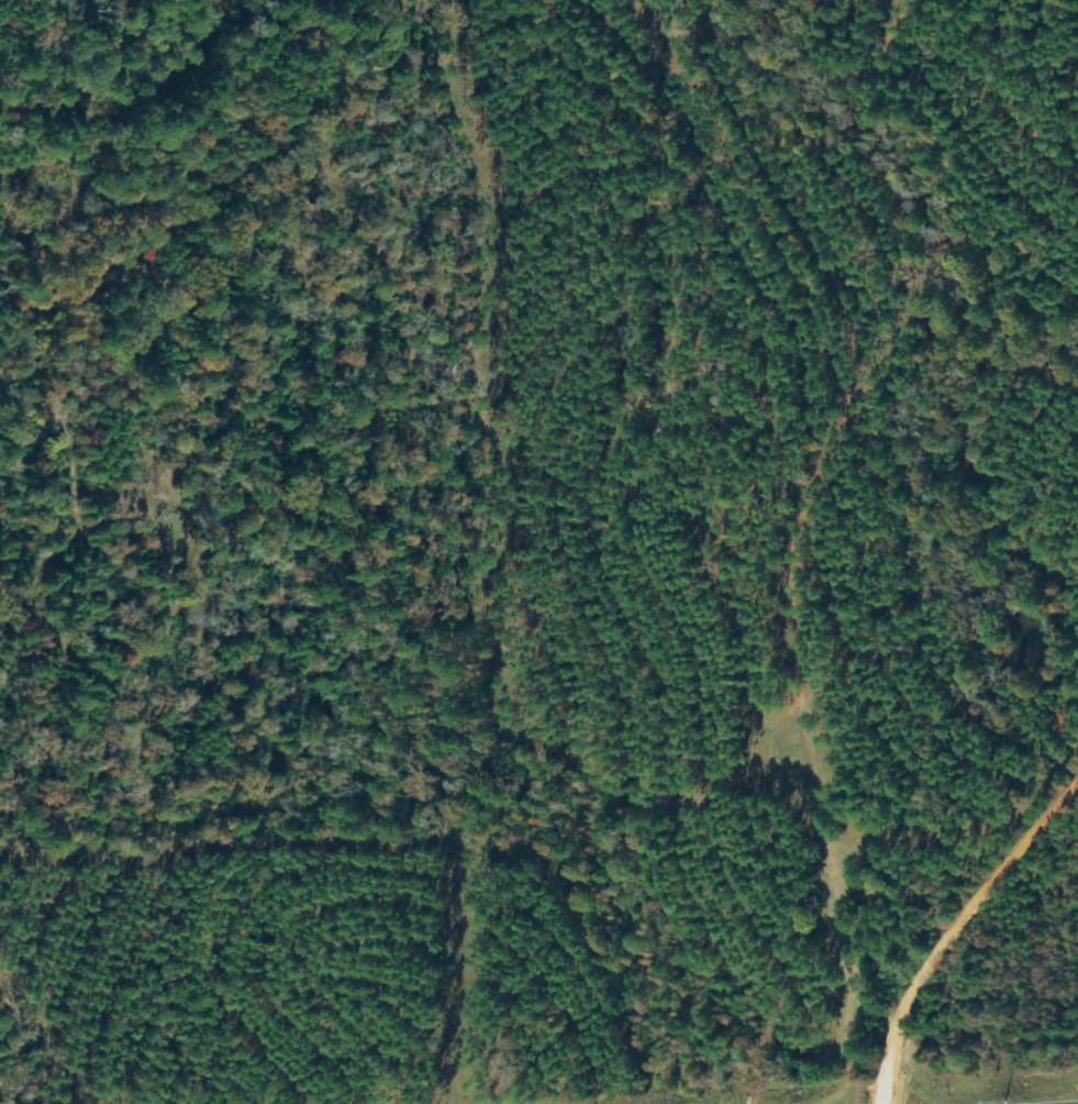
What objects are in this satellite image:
road: (955, 930)

